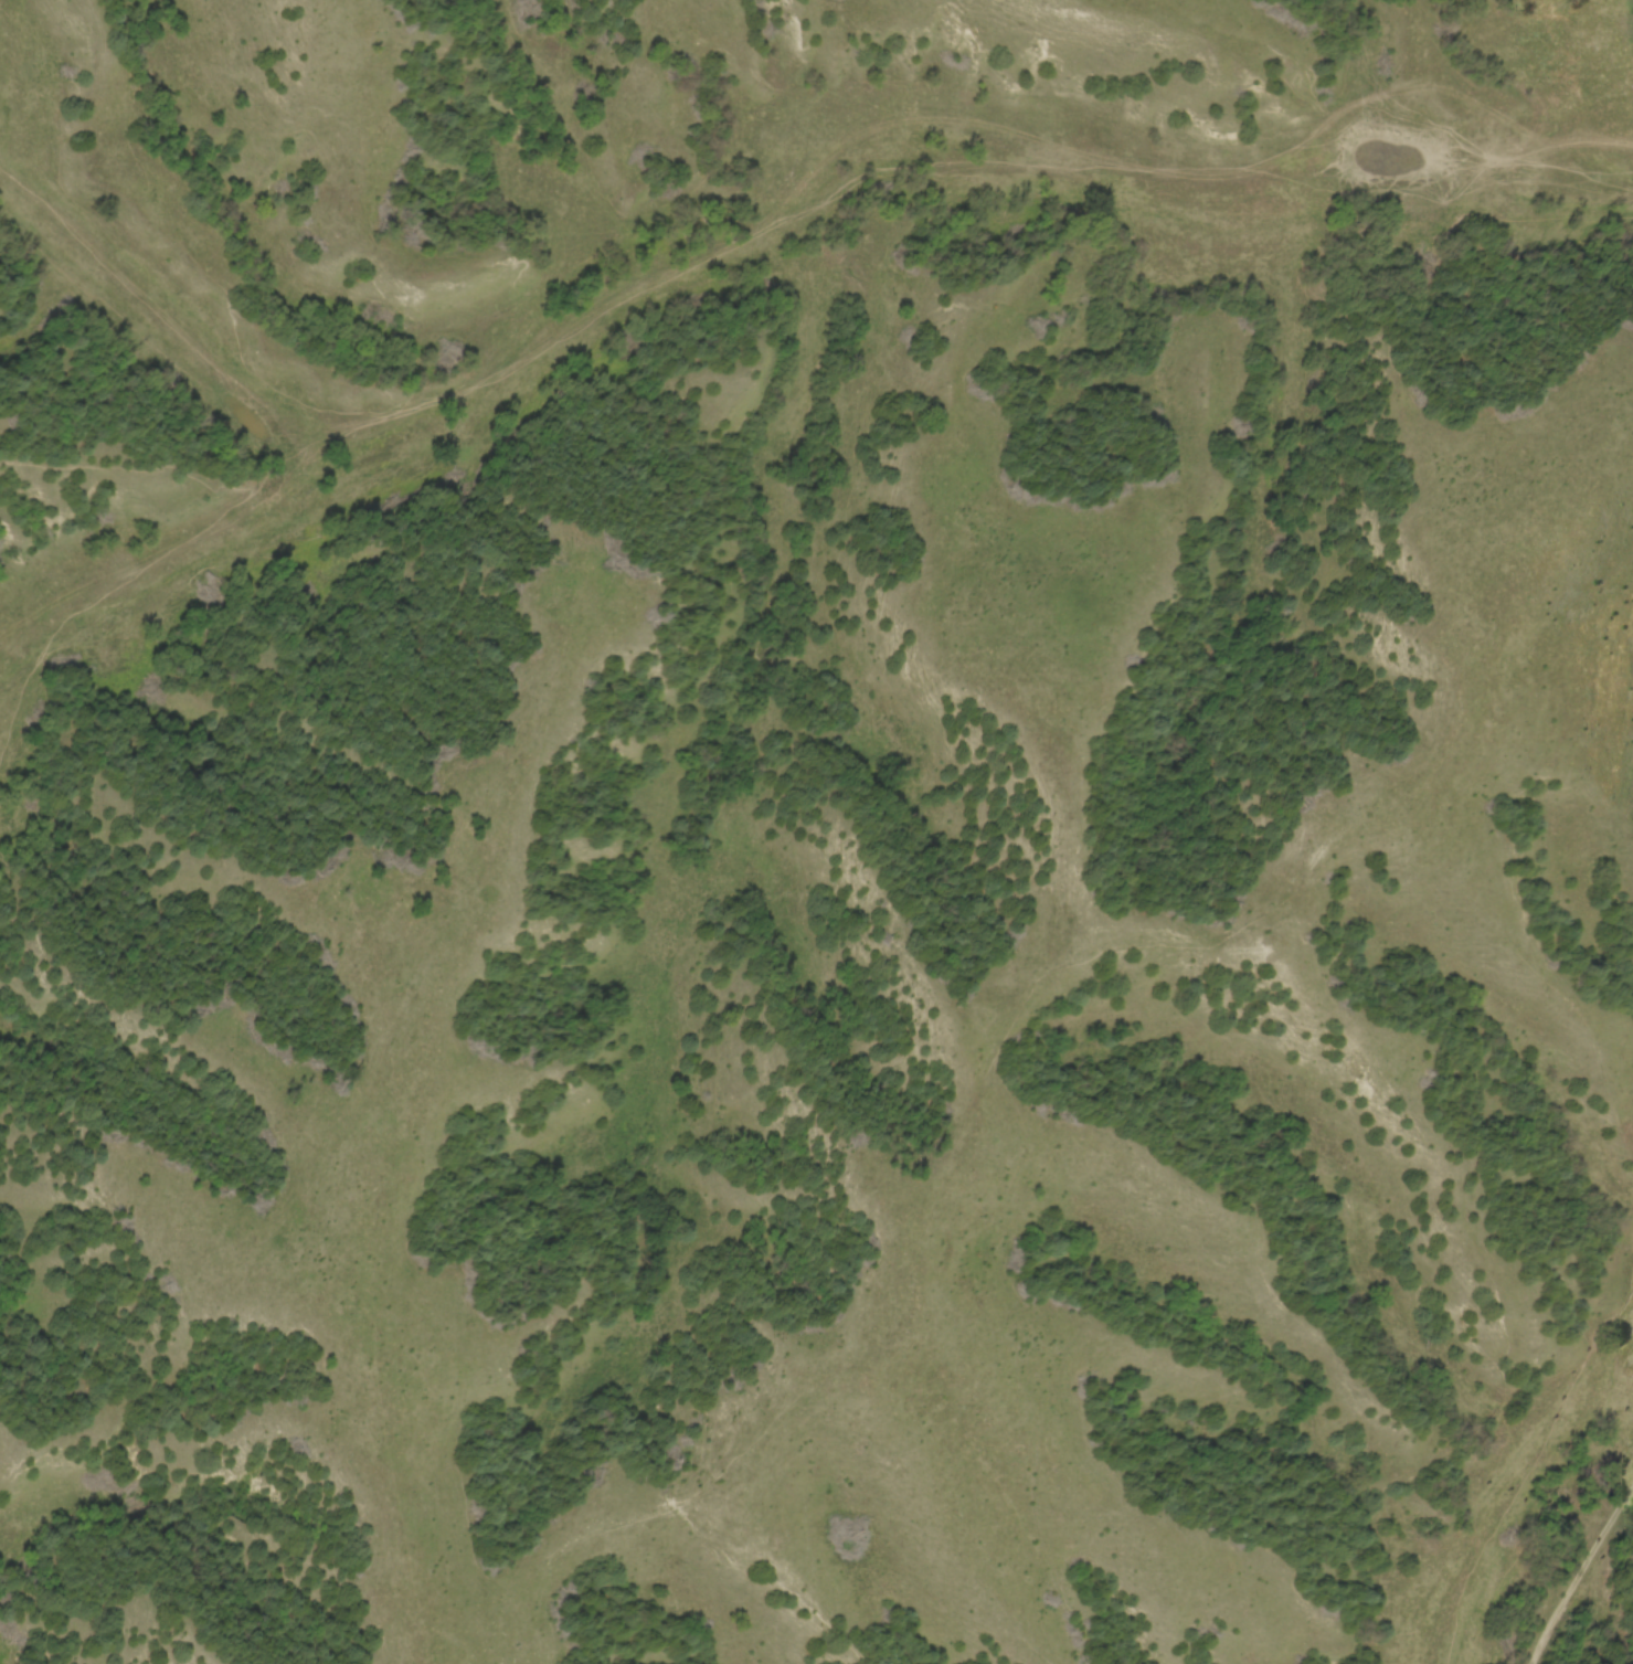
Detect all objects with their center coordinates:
road: (1579, 1572)

